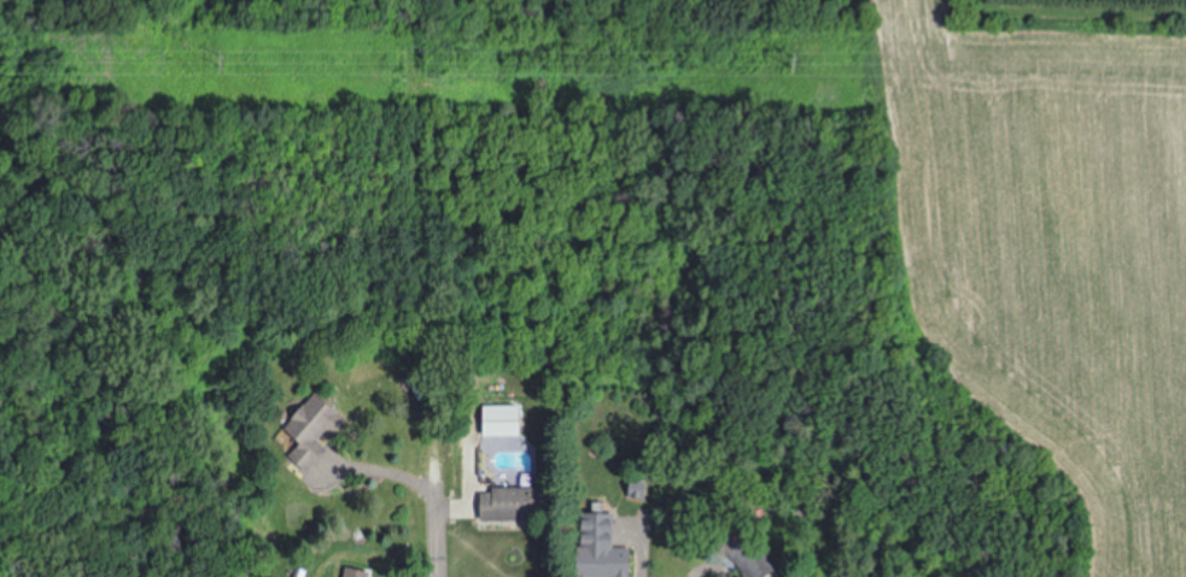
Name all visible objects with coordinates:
power tower: (227, 63)
power tower: (796, 64)
crop: (1054, 254)
building: (315, 435)
building: (520, 505)
road: (437, 514)
building: (603, 548)

